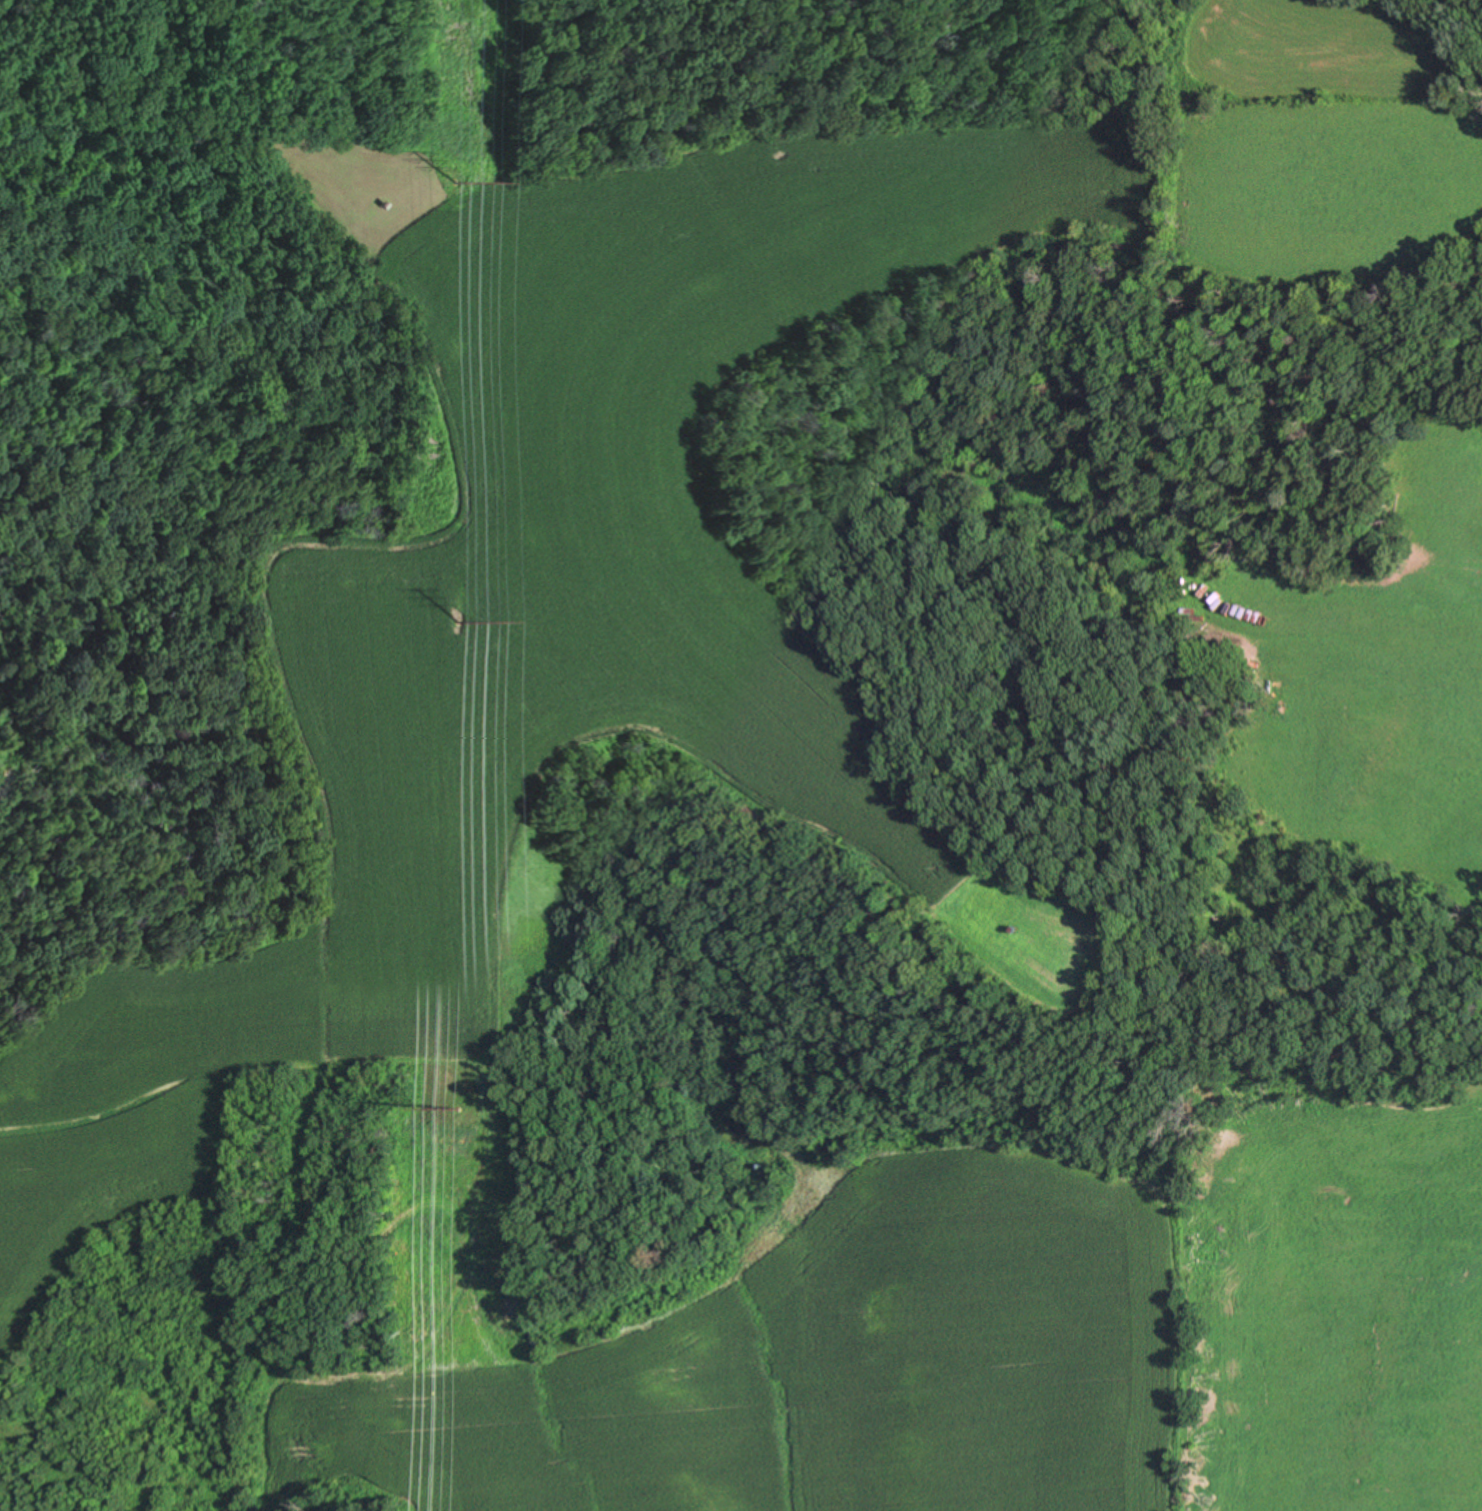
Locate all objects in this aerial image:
power tower: (455, 185)
power tower: (460, 620)
power tower: (465, 1107)

